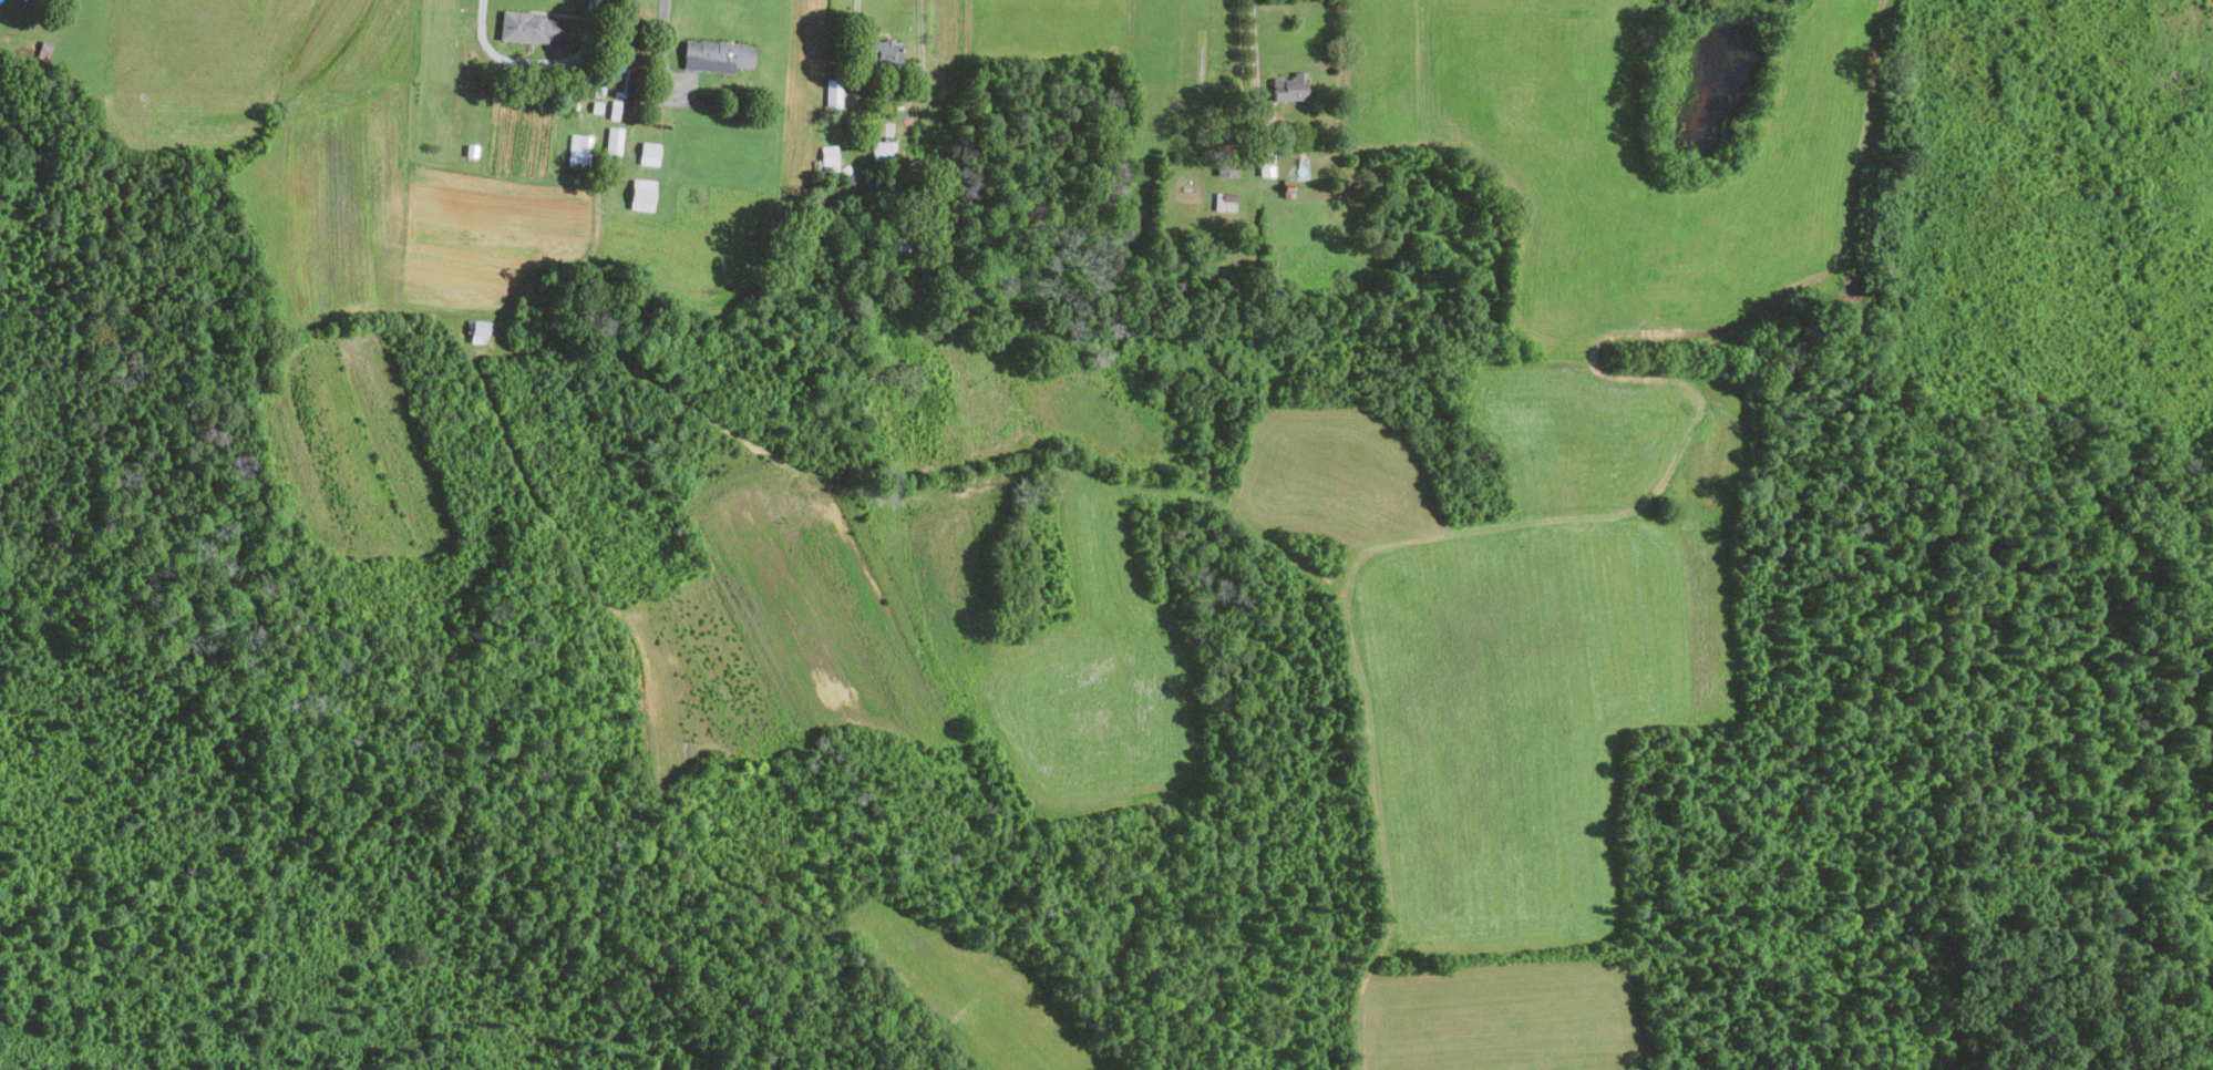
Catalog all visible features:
building: (532, 28)
road: (1255, 47)
road: (659, 49)
building: (716, 55)
building: (622, 79)
building: (1289, 88)
building: (833, 92)
road: (887, 92)
building: (885, 127)
building: (613, 145)
building: (578, 150)
building: (883, 151)
building: (649, 153)
building: (641, 194)
building: (476, 331)

